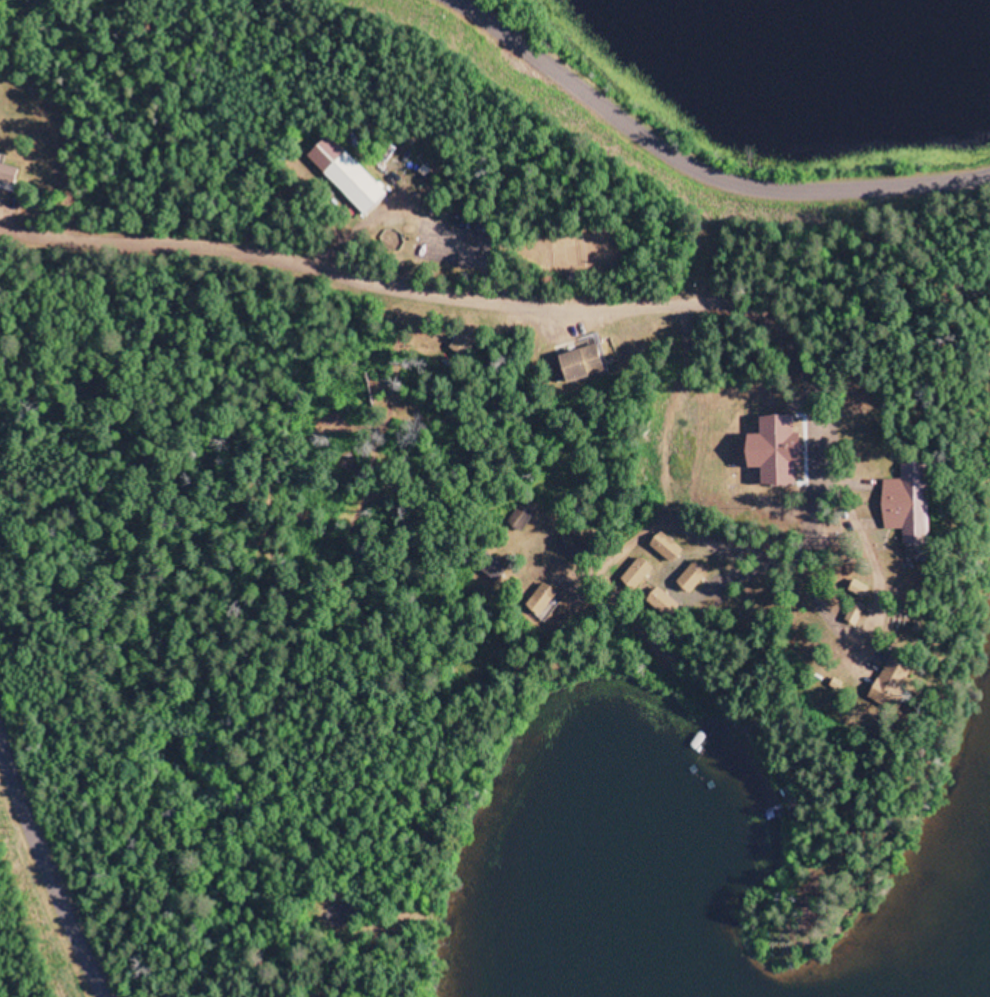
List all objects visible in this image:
road: (671, 162)
building: (353, 174)
road: (359, 301)
road: (744, 308)
building: (594, 362)
building: (907, 503)
building: (529, 514)
road: (39, 896)

